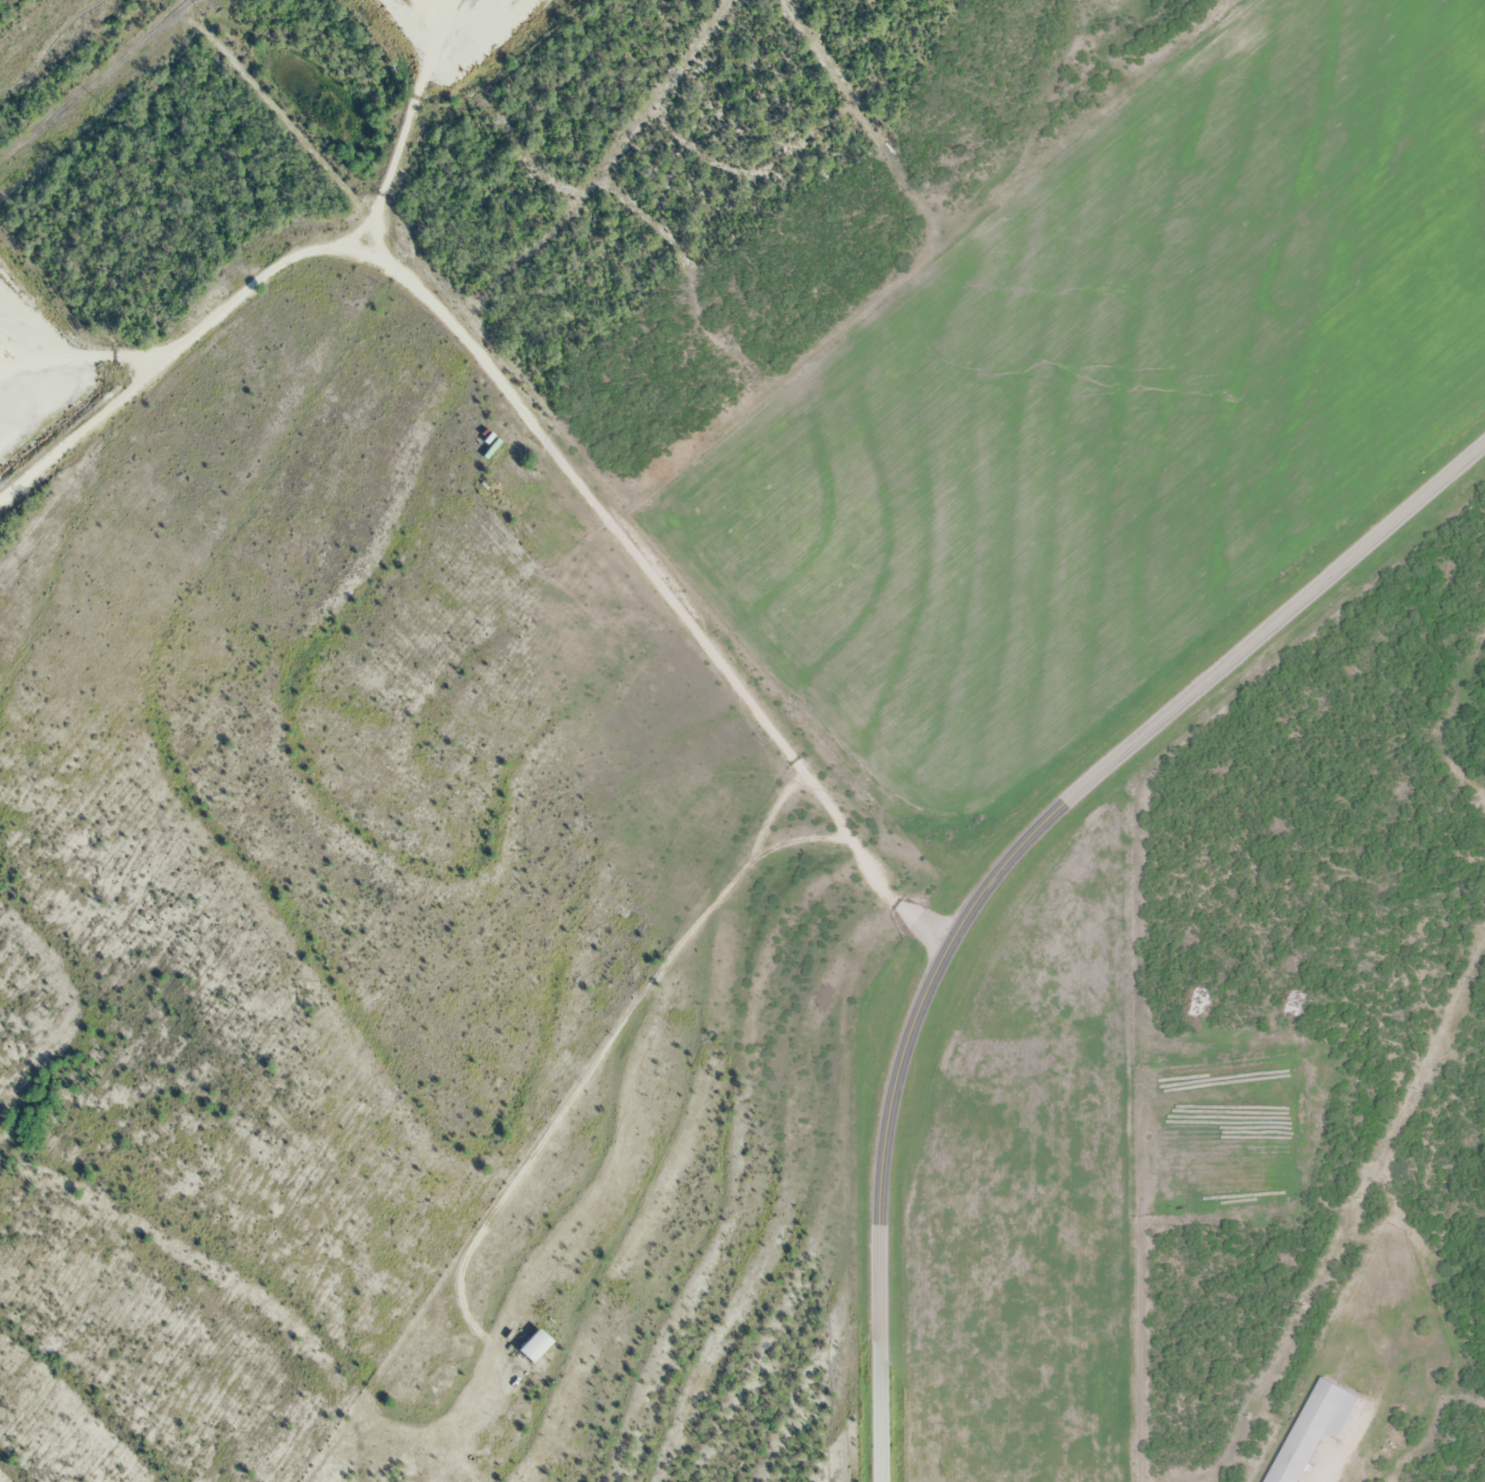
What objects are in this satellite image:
road: (402, 124)
road: (79, 355)
road: (523, 416)
road: (1004, 869)
building: (531, 1347)

